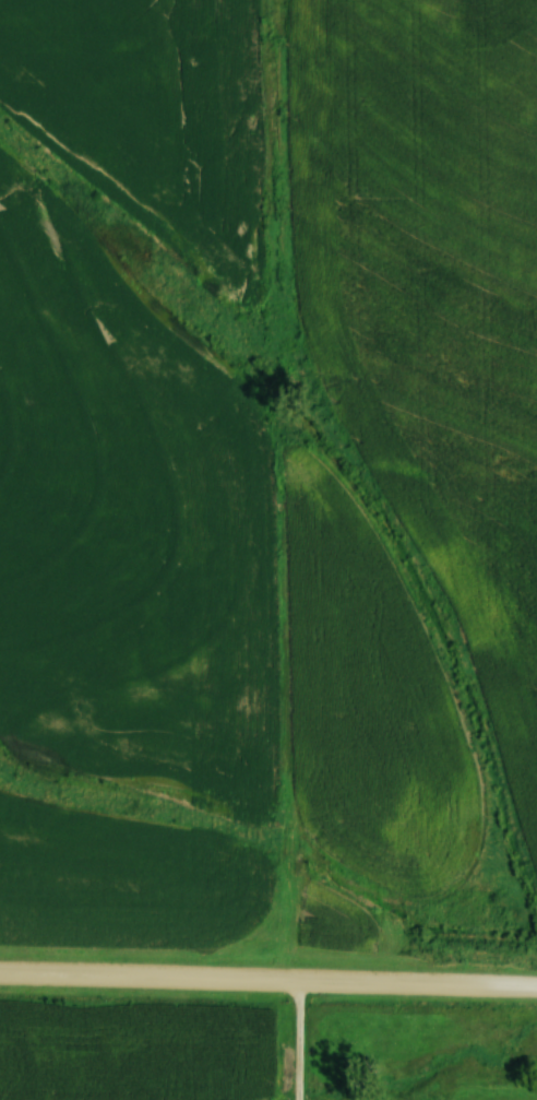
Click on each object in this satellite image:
road: (267, 980)
road: (297, 1040)

